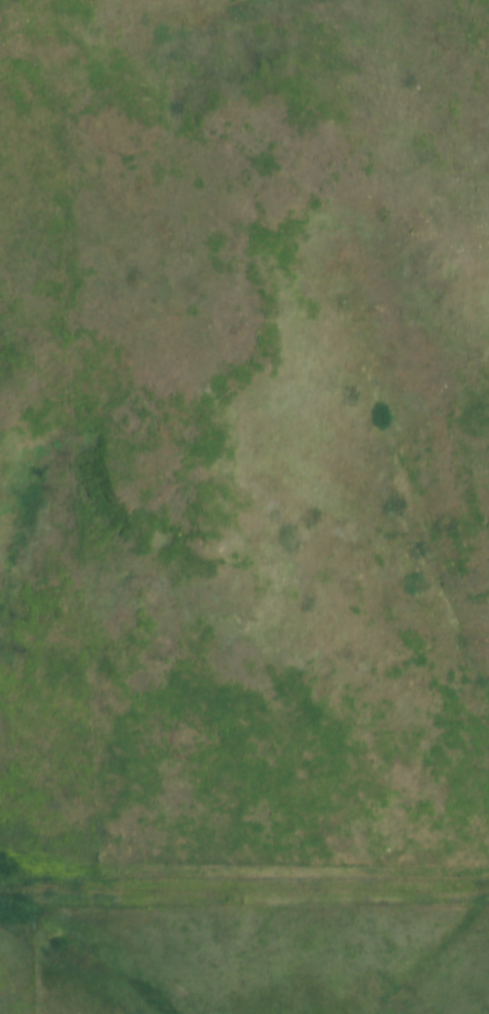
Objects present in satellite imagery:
road: (244, 885)

